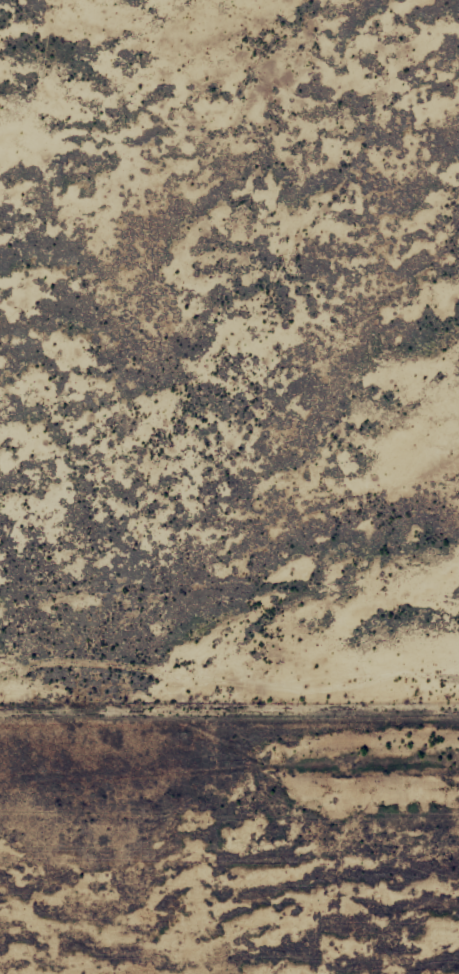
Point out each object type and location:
road: (229, 744)

